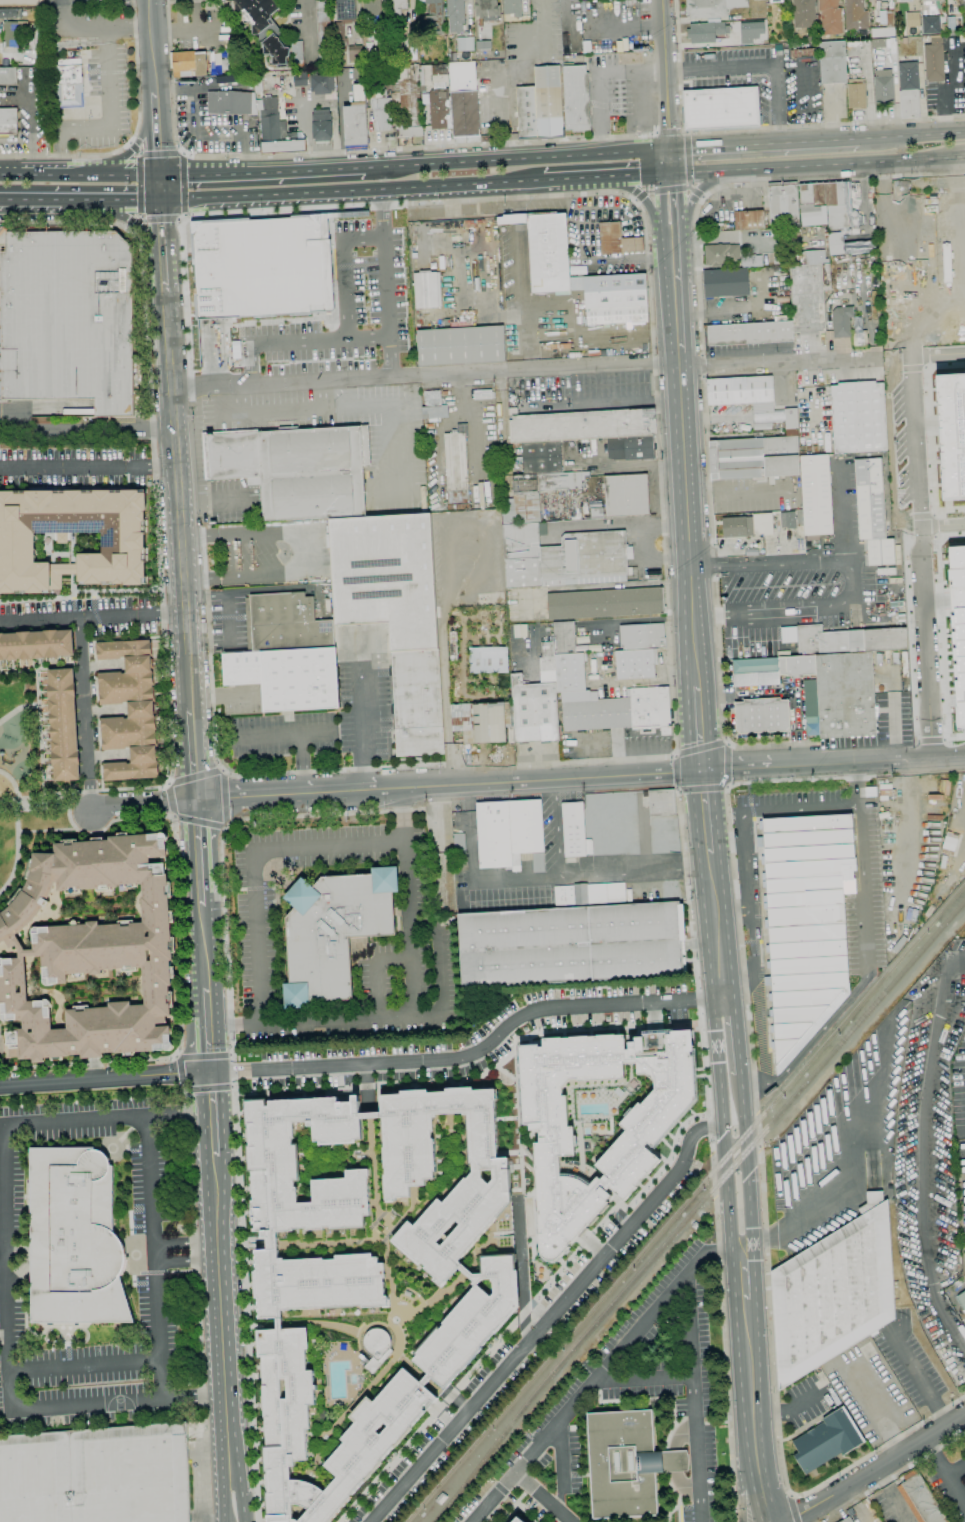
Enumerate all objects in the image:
building: (775, 1)
building: (883, 1)
building: (905, 1)
building: (371, 7)
building: (512, 7)
road: (565, 8)
building: (455, 9)
building: (487, 9)
building: (707, 9)
building: (346, 10)
building: (398, 10)
building: (925, 11)
building: (5, 13)
building: (804, 14)
building: (436, 15)
building: (855, 15)
building: (831, 17)
building: (913, 19)
building: (931, 24)
building: (885, 25)
road: (95, 26)
building: (264, 26)
building: (751, 29)
building: (15, 32)
road: (306, 32)
building: (706, 32)
building: (324, 33)
building: (359, 35)
building: (340, 43)
building: (465, 44)
road: (152, 46)
building: (297, 52)
building: (355, 54)
building: (800, 54)
building: (400, 60)
building: (231, 61)
building: (934, 61)
building: (833, 62)
road: (54, 63)
building: (189, 63)
road: (755, 65)
road: (664, 73)
building: (8, 76)
road: (602, 77)
building: (300, 78)
building: (69, 83)
building: (322, 84)
building: (884, 88)
building: (909, 89)
building: (856, 94)
building: (576, 98)
building: (464, 99)
building: (406, 100)
building: (230, 103)
road: (155, 104)
building: (540, 106)
building: (380, 108)
building: (721, 109)
building: (439, 113)
building: (357, 121)
building: (8, 122)
road: (109, 122)
building: (322, 125)
building: (277, 130)
road: (757, 130)
road: (668, 131)
road: (923, 135)
road: (132, 136)
road: (868, 138)
road: (129, 143)
road: (761, 143)
road: (156, 144)
road: (133, 148)
road: (134, 148)
traffic signals: (668, 148)
road: (377, 150)
road: (180, 152)
road: (159, 153)
road: (183, 154)
road: (535, 155)
road: (964, 156)
road: (668, 161)
road: (845, 163)
road: (383, 165)
road: (261, 169)
road: (50, 171)
road: (130, 172)
traffic signals: (159, 172)
road: (697, 172)
traffic signals: (669, 174)
road: (601, 178)
road: (689, 182)
road: (183, 185)
road: (140, 186)
road: (161, 187)
road: (349, 192)
road: (695, 192)
road: (641, 197)
road: (50, 200)
road: (645, 200)
road: (131, 201)
traffic signals: (163, 202)
road: (688, 203)
building: (783, 203)
building: (824, 205)
road: (378, 206)
road: (671, 212)
road: (184, 215)
road: (159, 219)
building: (749, 220)
road: (179, 221)
road: (135, 223)
road: (136, 225)
road: (129, 229)
road: (162, 231)
building: (783, 233)
road: (715, 237)
building: (617, 240)
building: (848, 245)
building: (548, 249)
building: (722, 255)
building: (801, 257)
road: (962, 264)
building: (262, 267)
road: (345, 269)
road: (164, 277)
road: (0, 280)
building: (726, 283)
road: (383, 284)
building: (427, 290)
building: (807, 291)
road: (675, 302)
building: (67, 318)
building: (842, 321)
road: (298, 340)
building: (461, 346)
road: (939, 356)
road: (0, 359)
road: (777, 361)
road: (906, 366)
road: (424, 376)
road: (704, 382)
building: (740, 390)
building: (483, 394)
building: (434, 406)
road: (139, 407)
road: (50, 408)
road: (391, 412)
building: (858, 416)
building: (777, 420)
road: (474, 423)
building: (582, 425)
road: (84, 431)
building: (951, 432)
road: (928, 433)
building: (631, 448)
building: (541, 457)
building: (456, 465)
road: (88, 466)
building: (295, 468)
building: (779, 473)
building: (535, 494)
building: (626, 495)
road: (178, 501)
building: (596, 509)
road: (846, 511)
building: (873, 512)
road: (919, 512)
road: (688, 519)
building: (788, 520)
road: (942, 523)
road: (934, 524)
building: (738, 527)
building: (794, 535)
building: (124, 541)
road: (907, 545)
road: (935, 549)
road: (301, 550)
building: (563, 557)
road: (921, 558)
road: (770, 563)
road: (937, 598)
road: (938, 600)
building: (605, 603)
road: (793, 606)
road: (160, 614)
building: (395, 614)
road: (67, 617)
building: (285, 623)
building: (958, 626)
building: (643, 636)
building: (564, 638)
building: (848, 640)
building: (36, 644)
building: (487, 659)
building: (636, 664)
road: (942, 672)
building: (287, 677)
building: (572, 677)
road: (785, 689)
building: (830, 689)
road: (83, 698)
building: (537, 702)
road: (17, 707)
building: (650, 709)
building: (129, 710)
building: (596, 714)
building: (762, 715)
road: (38, 718)
building: (489, 722)
building: (64, 724)
road: (366, 729)
road: (700, 729)
road: (895, 729)
road: (272, 734)
road: (955, 734)
road: (930, 736)
road: (701, 746)
road: (303, 748)
road: (192, 755)
road: (171, 761)
road: (868, 762)
road: (728, 764)
road: (223, 770)
road: (737, 770)
road: (676, 772)
traffic signals: (703, 773)
park: (24, 776)
road: (544, 781)
road: (856, 784)
road: (703, 788)
road: (88, 795)
road: (290, 795)
road: (171, 797)
road: (224, 797)
building: (662, 802)
road: (142, 803)
road: (35, 804)
road: (706, 808)
building: (884, 815)
road: (172, 816)
road: (95, 824)
road: (225, 825)
road: (556, 829)
building: (574, 829)
road: (16, 830)
road: (730, 831)
building: (510, 834)
road: (197, 847)
building: (459, 849)
road: (711, 855)
road: (254, 867)
building: (460, 868)
road: (861, 870)
road: (635, 871)
road: (470, 878)
railway: (953, 891)
road: (201, 900)
road: (731, 911)
building: (803, 925)
road: (410, 929)
building: (334, 931)
road: (717, 931)
building: (572, 940)
road: (203, 947)
building: (92, 951)
road: (695, 976)
road: (206, 999)
road: (395, 1018)
road: (736, 1033)
road: (208, 1040)
road: (473, 1053)
road: (230, 1054)
road: (174, 1055)
road: (201, 1055)
road: (179, 1072)
traffic signals: (210, 1072)
road: (233, 1074)
road: (104, 1078)
road: (231, 1086)
road: (206, 1087)
road: (369, 1087)
road: (212, 1091)
road: (174, 1113)
road: (723, 1123)
road: (758, 1130)
road: (695, 1132)
road: (214, 1134)
building: (555, 1146)
road: (920, 1151)
road: (747, 1161)
road: (850, 1164)
road: (714, 1178)
railway: (685, 1201)
railway: (695, 1209)
building: (75, 1239)
road: (8, 1242)
road: (184, 1243)
road: (711, 1249)
road: (156, 1252)
road: (186, 1262)
building: (367, 1273)
road: (743, 1273)
building: (834, 1293)
building: (425, 1300)
building: (961, 1300)
road: (662, 1301)
road: (198, 1304)
road: (220, 1313)
road: (528, 1341)
building: (377, 1348)
road: (724, 1359)
building: (657, 1366)
road: (914, 1373)
road: (159, 1377)
road: (645, 1377)
road: (749, 1388)
road: (456, 1400)
road: (95, 1404)
road: (873, 1409)
road: (786, 1411)
road: (778, 1423)
building: (827, 1440)
building: (627, 1463)
road: (876, 1467)
road: (741, 1468)
road: (562, 1469)
building: (96, 1475)
road: (893, 1477)
road: (952, 1481)
road: (242, 1494)
road: (790, 1494)
road: (224, 1495)
road: (543, 1497)
building: (439, 1498)
road: (763, 1499)
building: (920, 1499)
road: (520, 1503)
road: (228, 1508)
road: (792, 1509)
building: (519, 1520)
building: (847, 1520)

